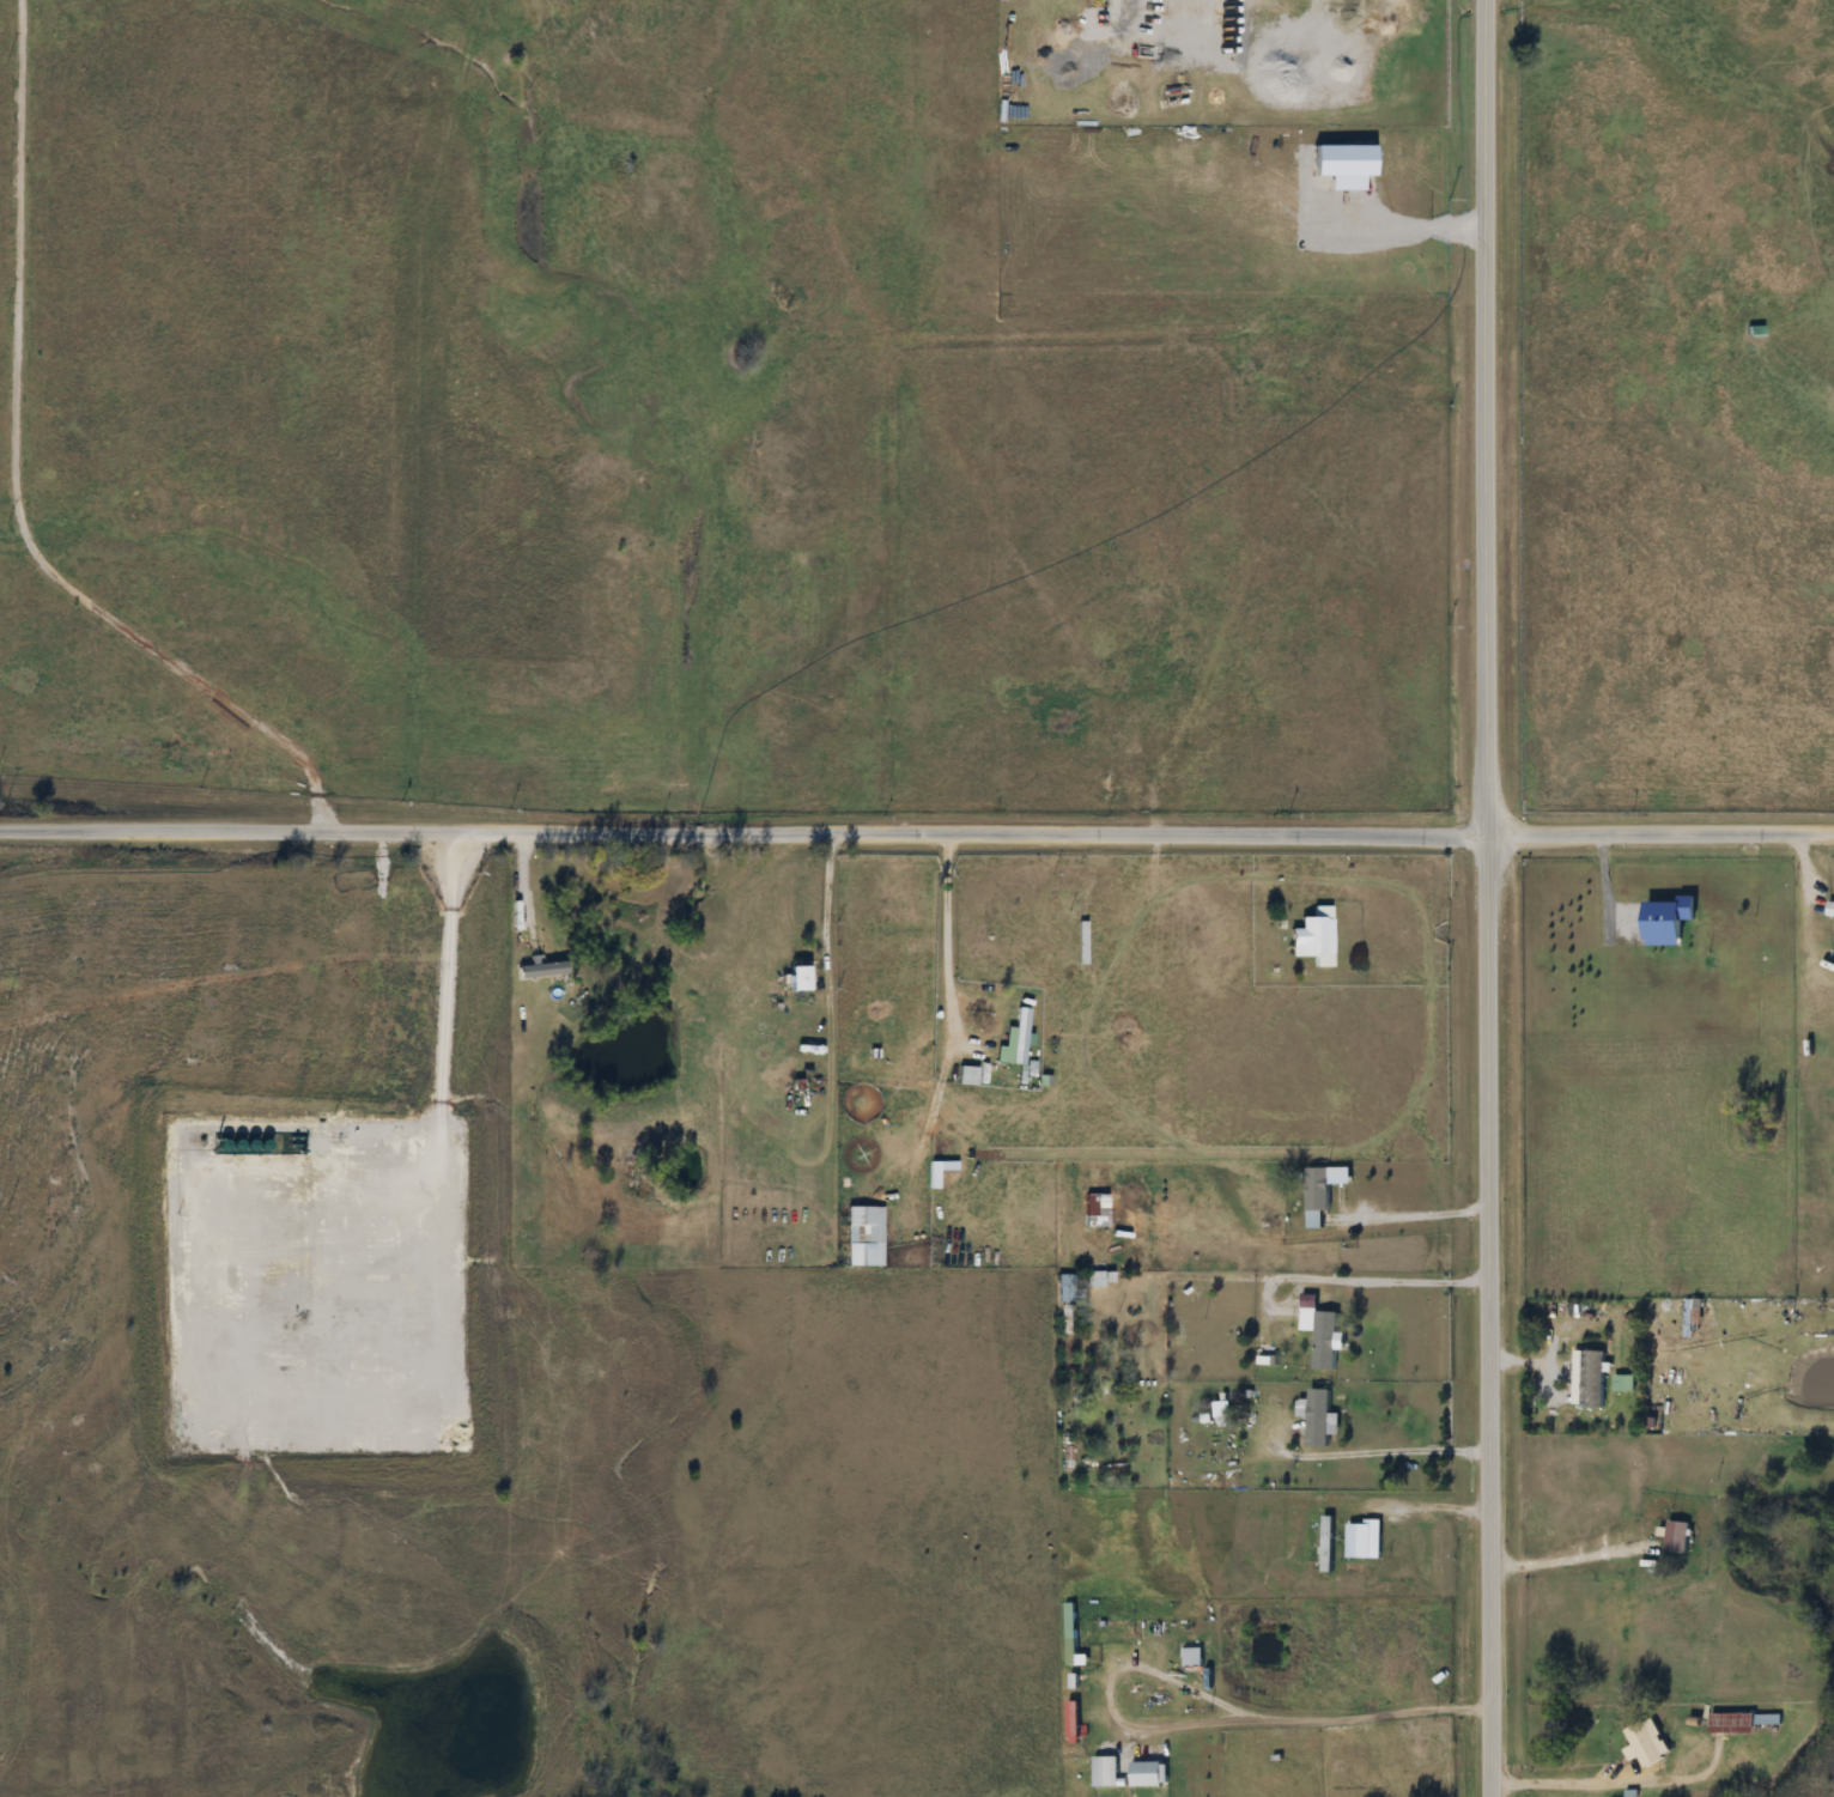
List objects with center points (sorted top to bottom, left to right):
road: (1476, 419)
road: (739, 836)
road: (1654, 836)
road: (1191, 905)
building: (1830, 910)
building: (1670, 922)
building: (1313, 937)
building: (1089, 942)
road: (947, 946)
building: (801, 978)
building: (1016, 1040)
building: (1317, 1196)
building: (1092, 1204)
building: (861, 1238)
road: (1298, 1280)
building: (1067, 1294)
road: (1481, 1317)
building: (1690, 1318)
building: (1322, 1336)
building: (1585, 1372)
building: (1623, 1383)
building: (1222, 1414)
building: (1677, 1537)
building: (1356, 1538)
road: (1567, 1564)
building: (1070, 1634)
building: (1739, 1723)
building: (1642, 1746)
building: (1149, 1774)
road: (1572, 1786)

